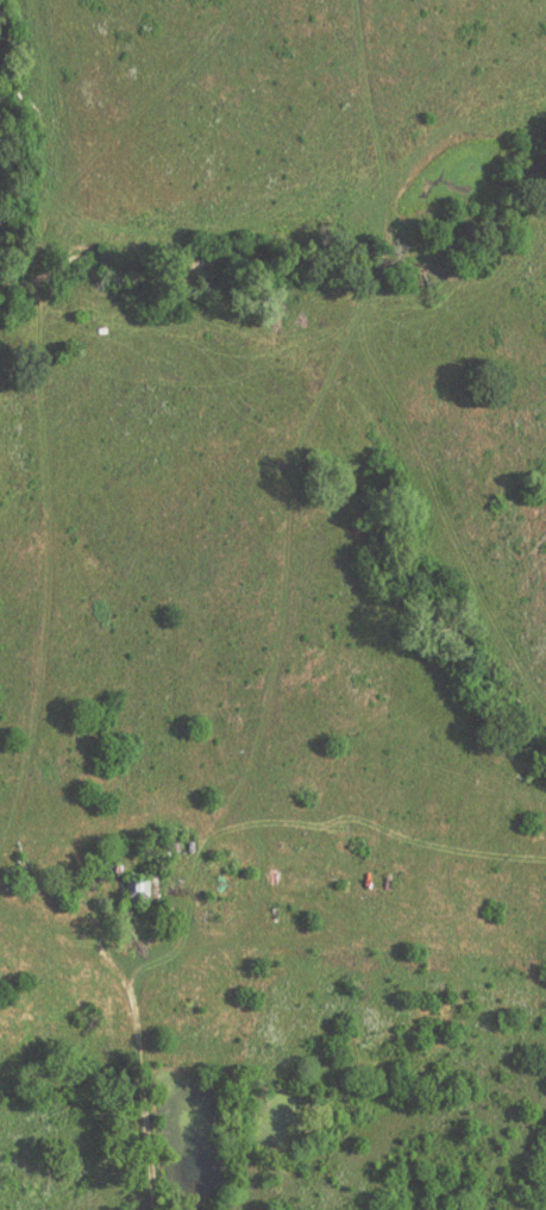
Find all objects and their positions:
building: (138, 886)
road: (136, 1043)

